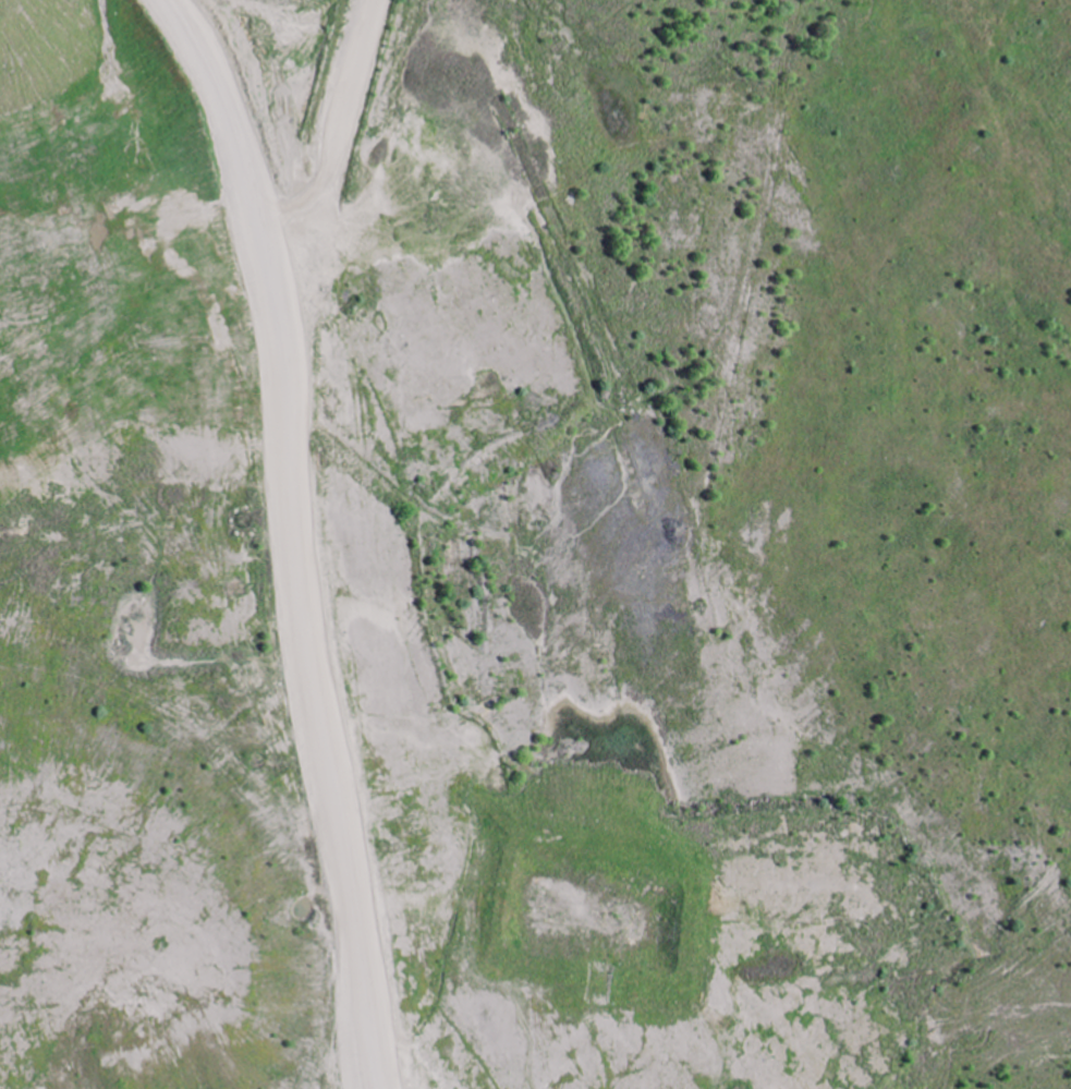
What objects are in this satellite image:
quarry: (535, 544)

